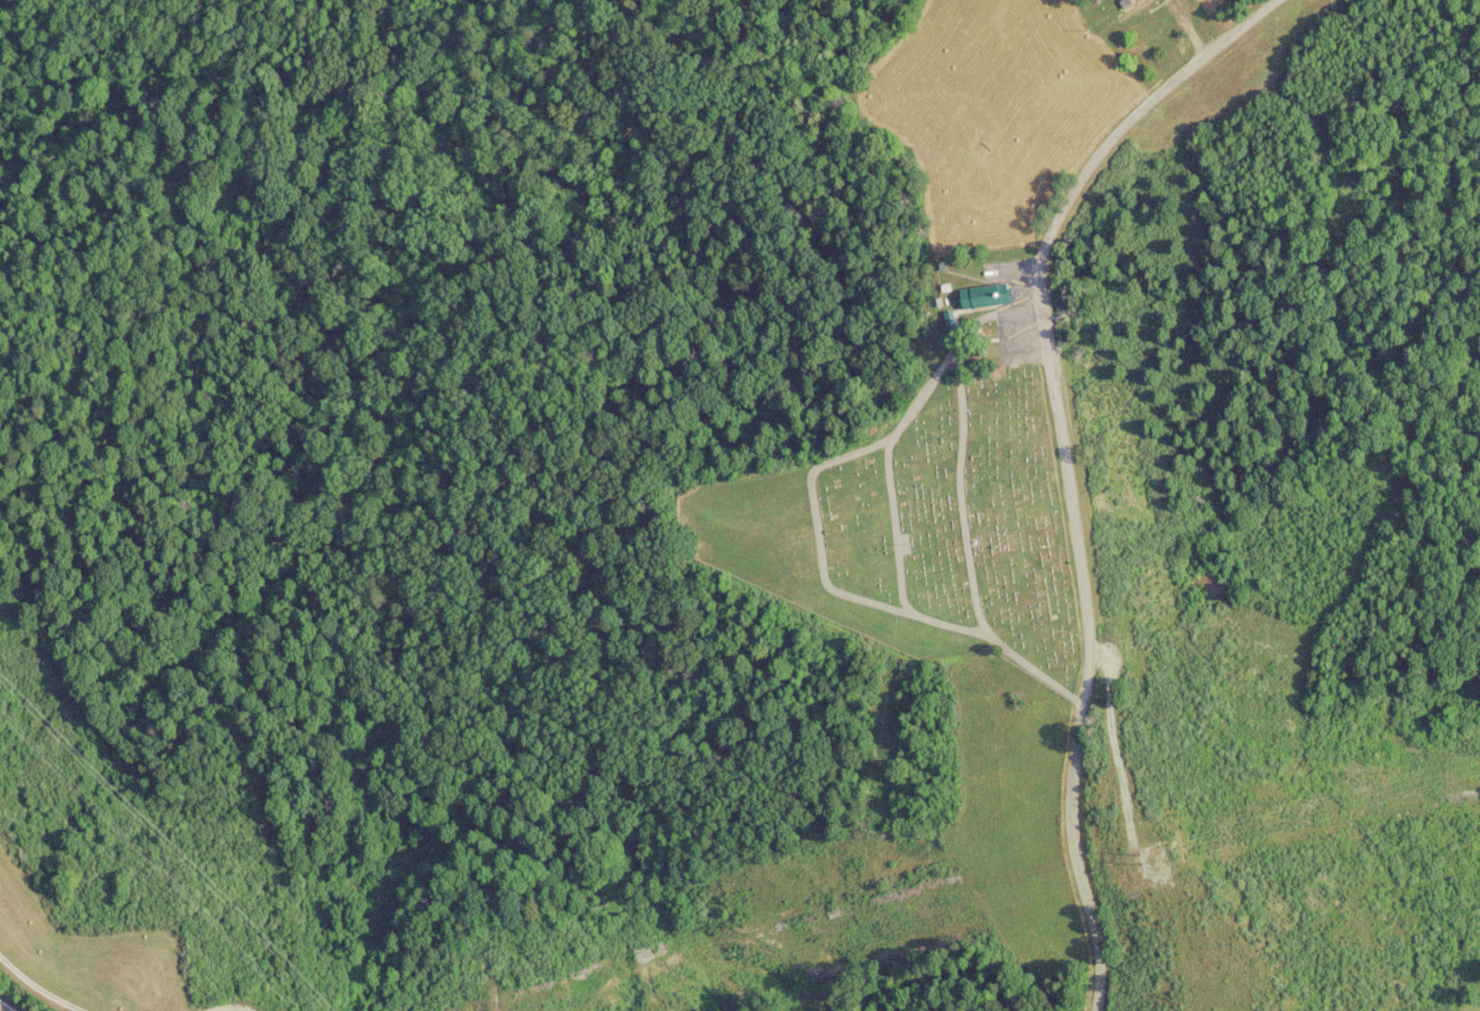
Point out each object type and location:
building: (984, 297)
road: (41, 403)
road: (1065, 455)
road: (820, 548)
road: (37, 986)
road: (5, 1007)

